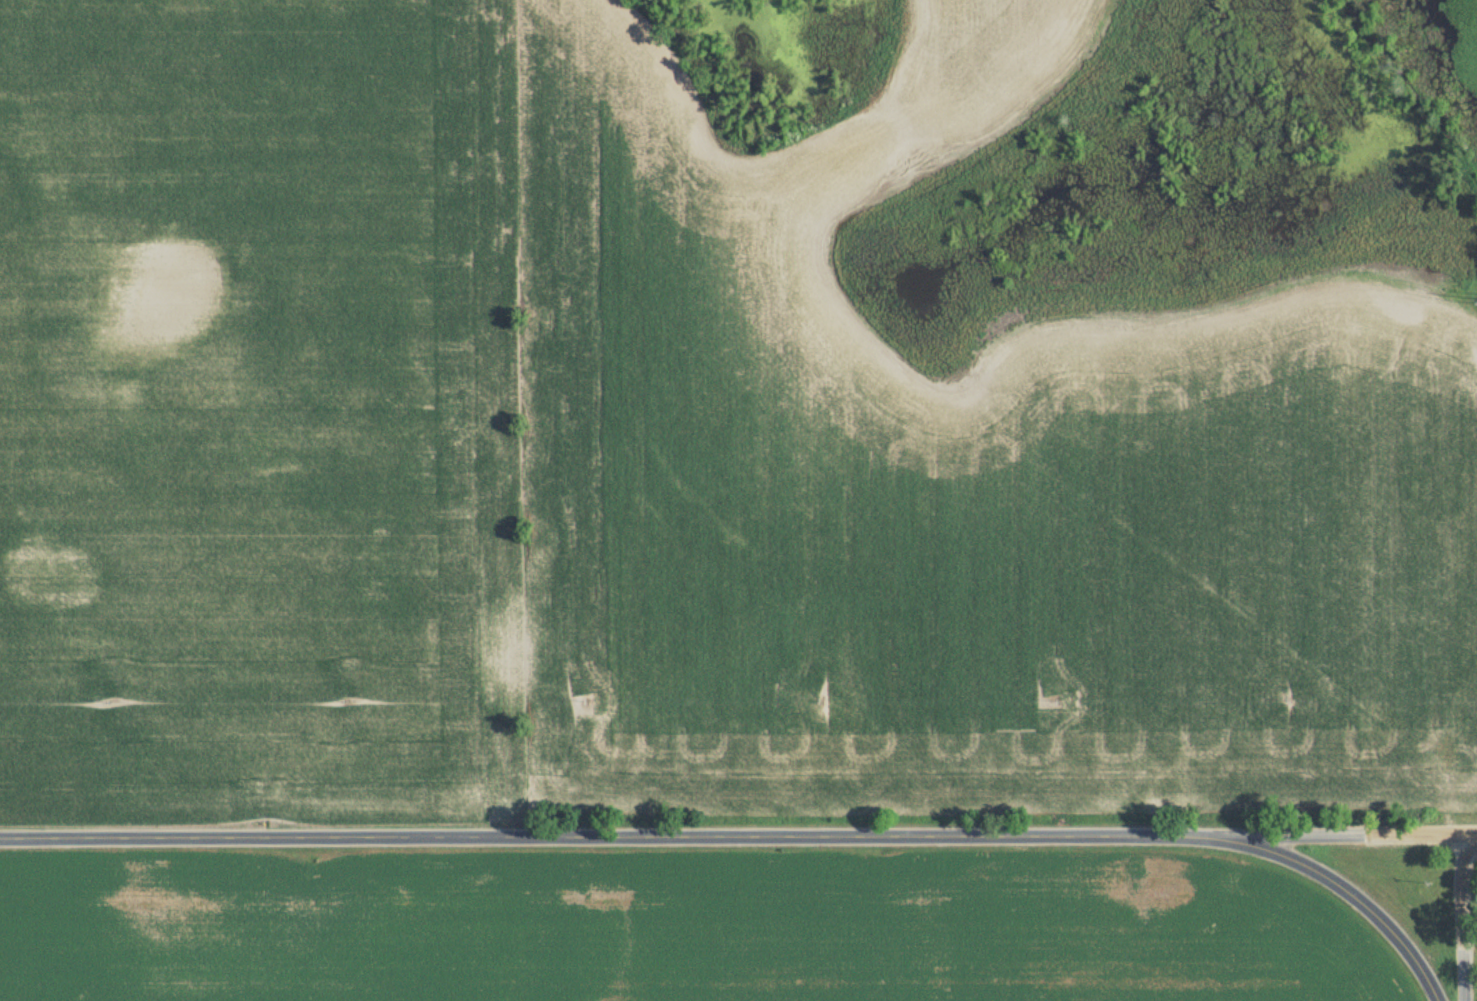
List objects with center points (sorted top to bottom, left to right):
road: (738, 831)
road: (1356, 898)
road: (1465, 916)

